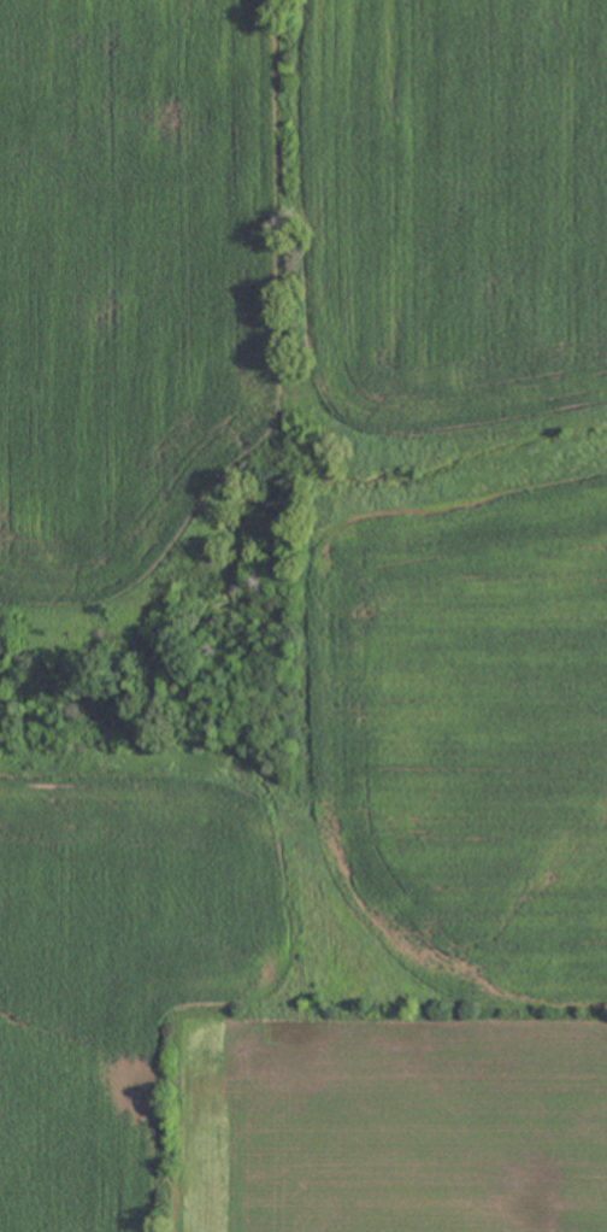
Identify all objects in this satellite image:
crop: (460, 677)

